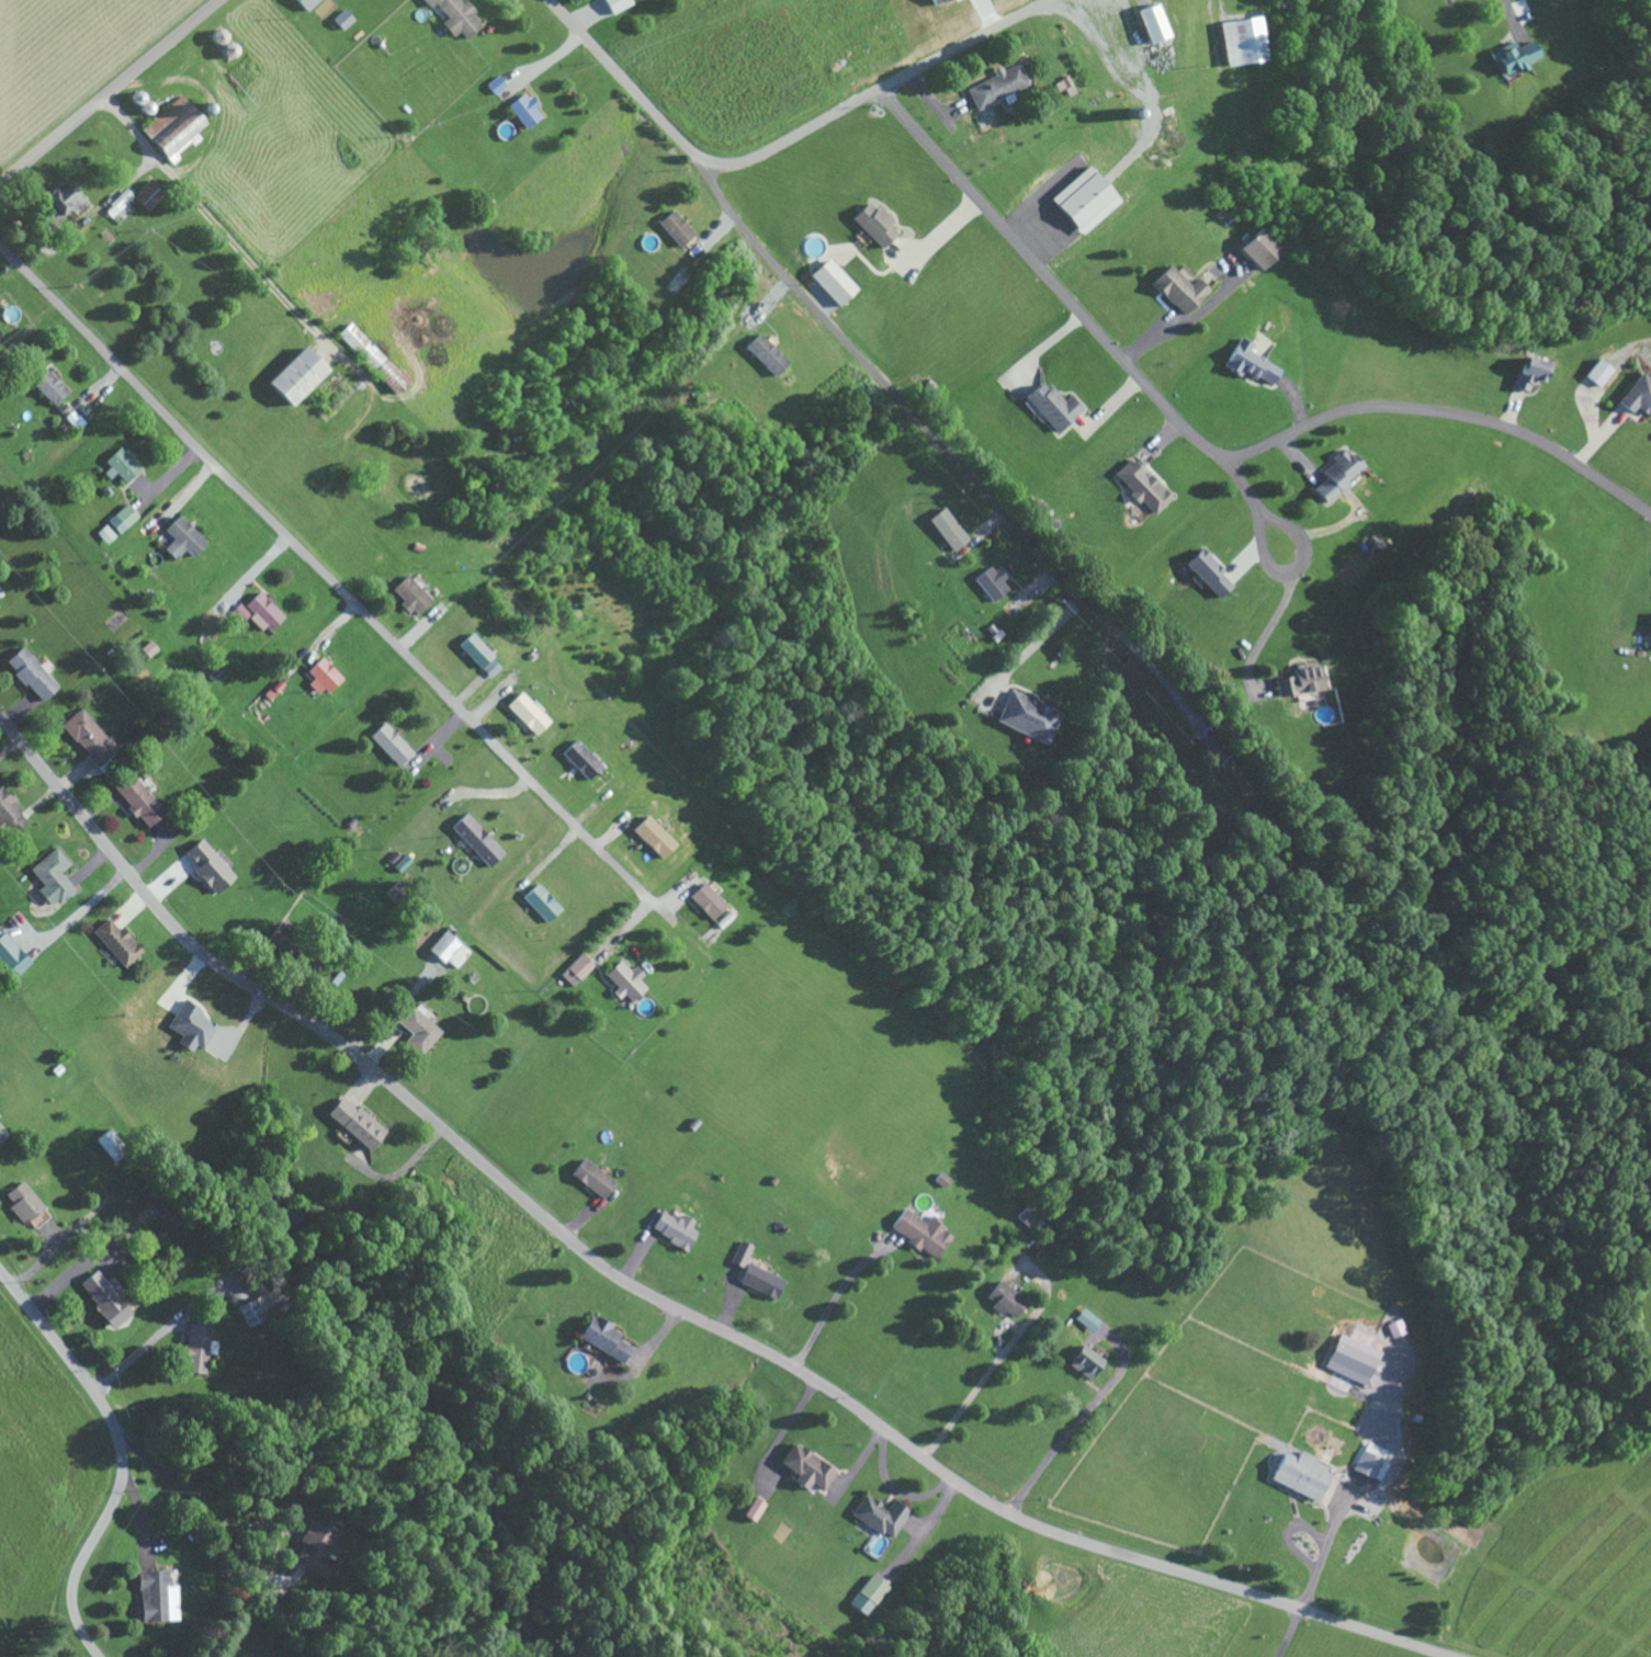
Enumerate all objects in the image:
building: (936, 1)
building: (306, 3)
building: (617, 4)
building: (454, 16)
building: (342, 19)
building: (1152, 22)
building: (1240, 41)
building: (1511, 56)
building: (998, 86)
building: (1065, 87)
road: (110, 91)
building: (523, 110)
building: (171, 129)
road: (781, 144)
building: (134, 198)
building: (60, 200)
building: (1085, 200)
building: (874, 224)
building: (675, 227)
building: (1258, 248)
building: (832, 281)
building: (1177, 288)
building: (765, 354)
building: (370, 357)
building: (1247, 363)
building: (1596, 372)
building: (1526, 373)
road: (877, 375)
building: (293, 376)
building: (50, 387)
building: (1637, 395)
building: (1052, 406)
road: (1206, 443)
building: (122, 464)
building: (1334, 476)
road: (1239, 484)
building: (1140, 486)
road: (1649, 517)
building: (123, 519)
building: (948, 530)
building: (105, 535)
building: (182, 538)
road: (1270, 568)
building: (1208, 574)
road: (329, 578)
building: (992, 583)
building: (410, 594)
building: (257, 612)
road: (1047, 632)
building: (147, 648)
building: (474, 650)
building: (490, 668)
building: (31, 673)
building: (320, 677)
building: (1298, 681)
building: (527, 713)
building: (1024, 716)
building: (87, 736)
building: (389, 744)
building: (580, 759)
building: (137, 801)
building: (7, 809)
building: (652, 837)
building: (476, 839)
building: (208, 866)
building: (52, 877)
building: (706, 900)
building: (540, 903)
building: (115, 941)
building: (450, 950)
building: (11, 956)
building: (576, 969)
building: (623, 980)
building: (190, 1028)
building: (415, 1031)
building: (353, 1121)
building: (106, 1137)
building: (592, 1177)
building: (22, 1201)
building: (1029, 1214)
building: (38, 1217)
building: (674, 1228)
building: (923, 1232)
building: (759, 1280)
building: (104, 1296)
road: (656, 1296)
building: (1006, 1298)
building: (1089, 1319)
building: (1393, 1327)
building: (601, 1337)
building: (195, 1347)
building: (1352, 1359)
building: (1085, 1360)
road: (118, 1453)
building: (1371, 1461)
building: (806, 1467)
building: (1300, 1474)
building: (753, 1509)
building: (879, 1514)
building: (314, 1547)
building: (863, 1594)
building: (157, 1596)

